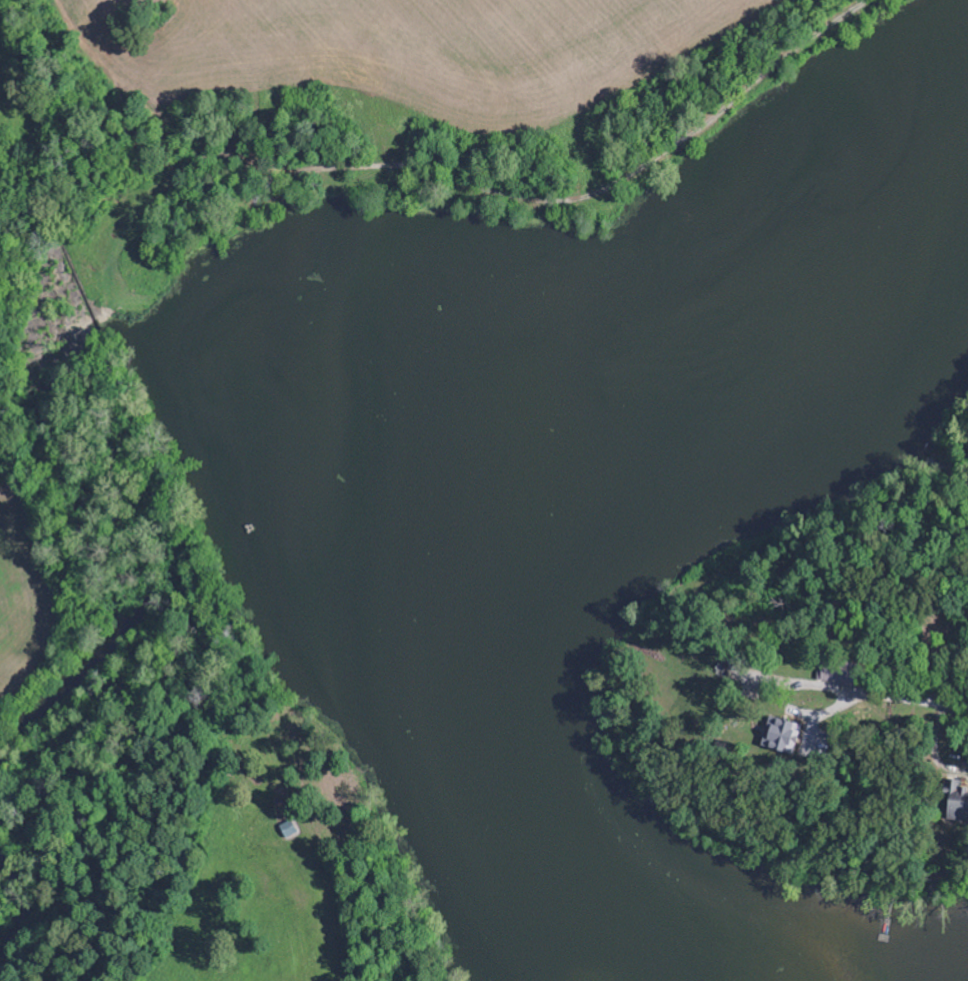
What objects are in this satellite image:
building: (837, 671)
road: (936, 706)
building: (782, 734)
building: (955, 799)
building: (289, 829)

